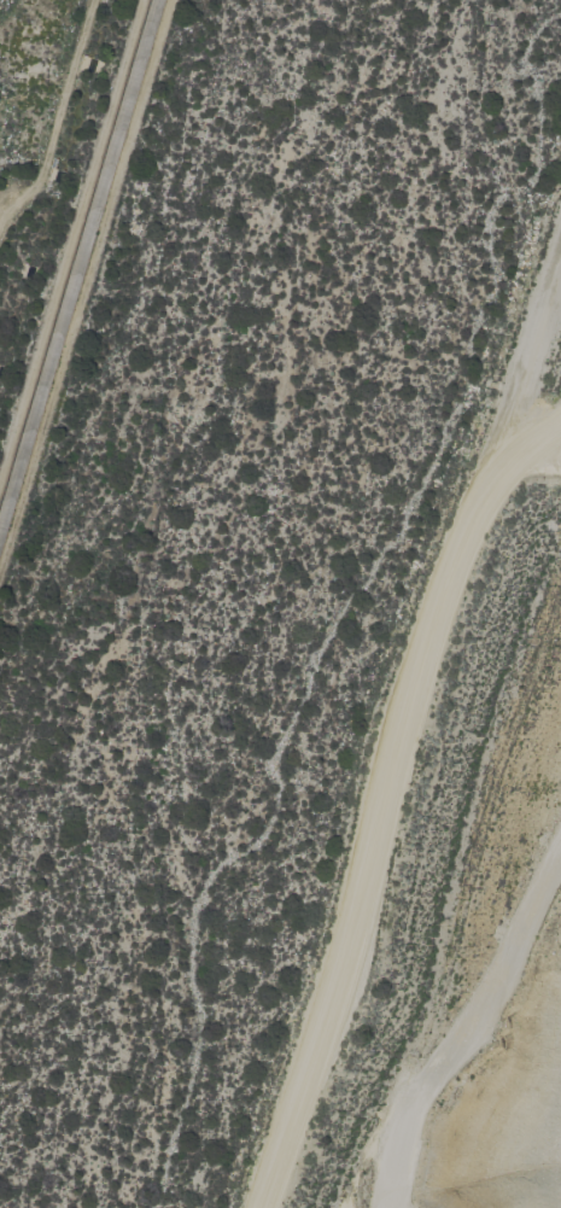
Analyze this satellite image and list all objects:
quarry: (555, 391)
quarry: (469, 920)
quarry: (381, 1202)

